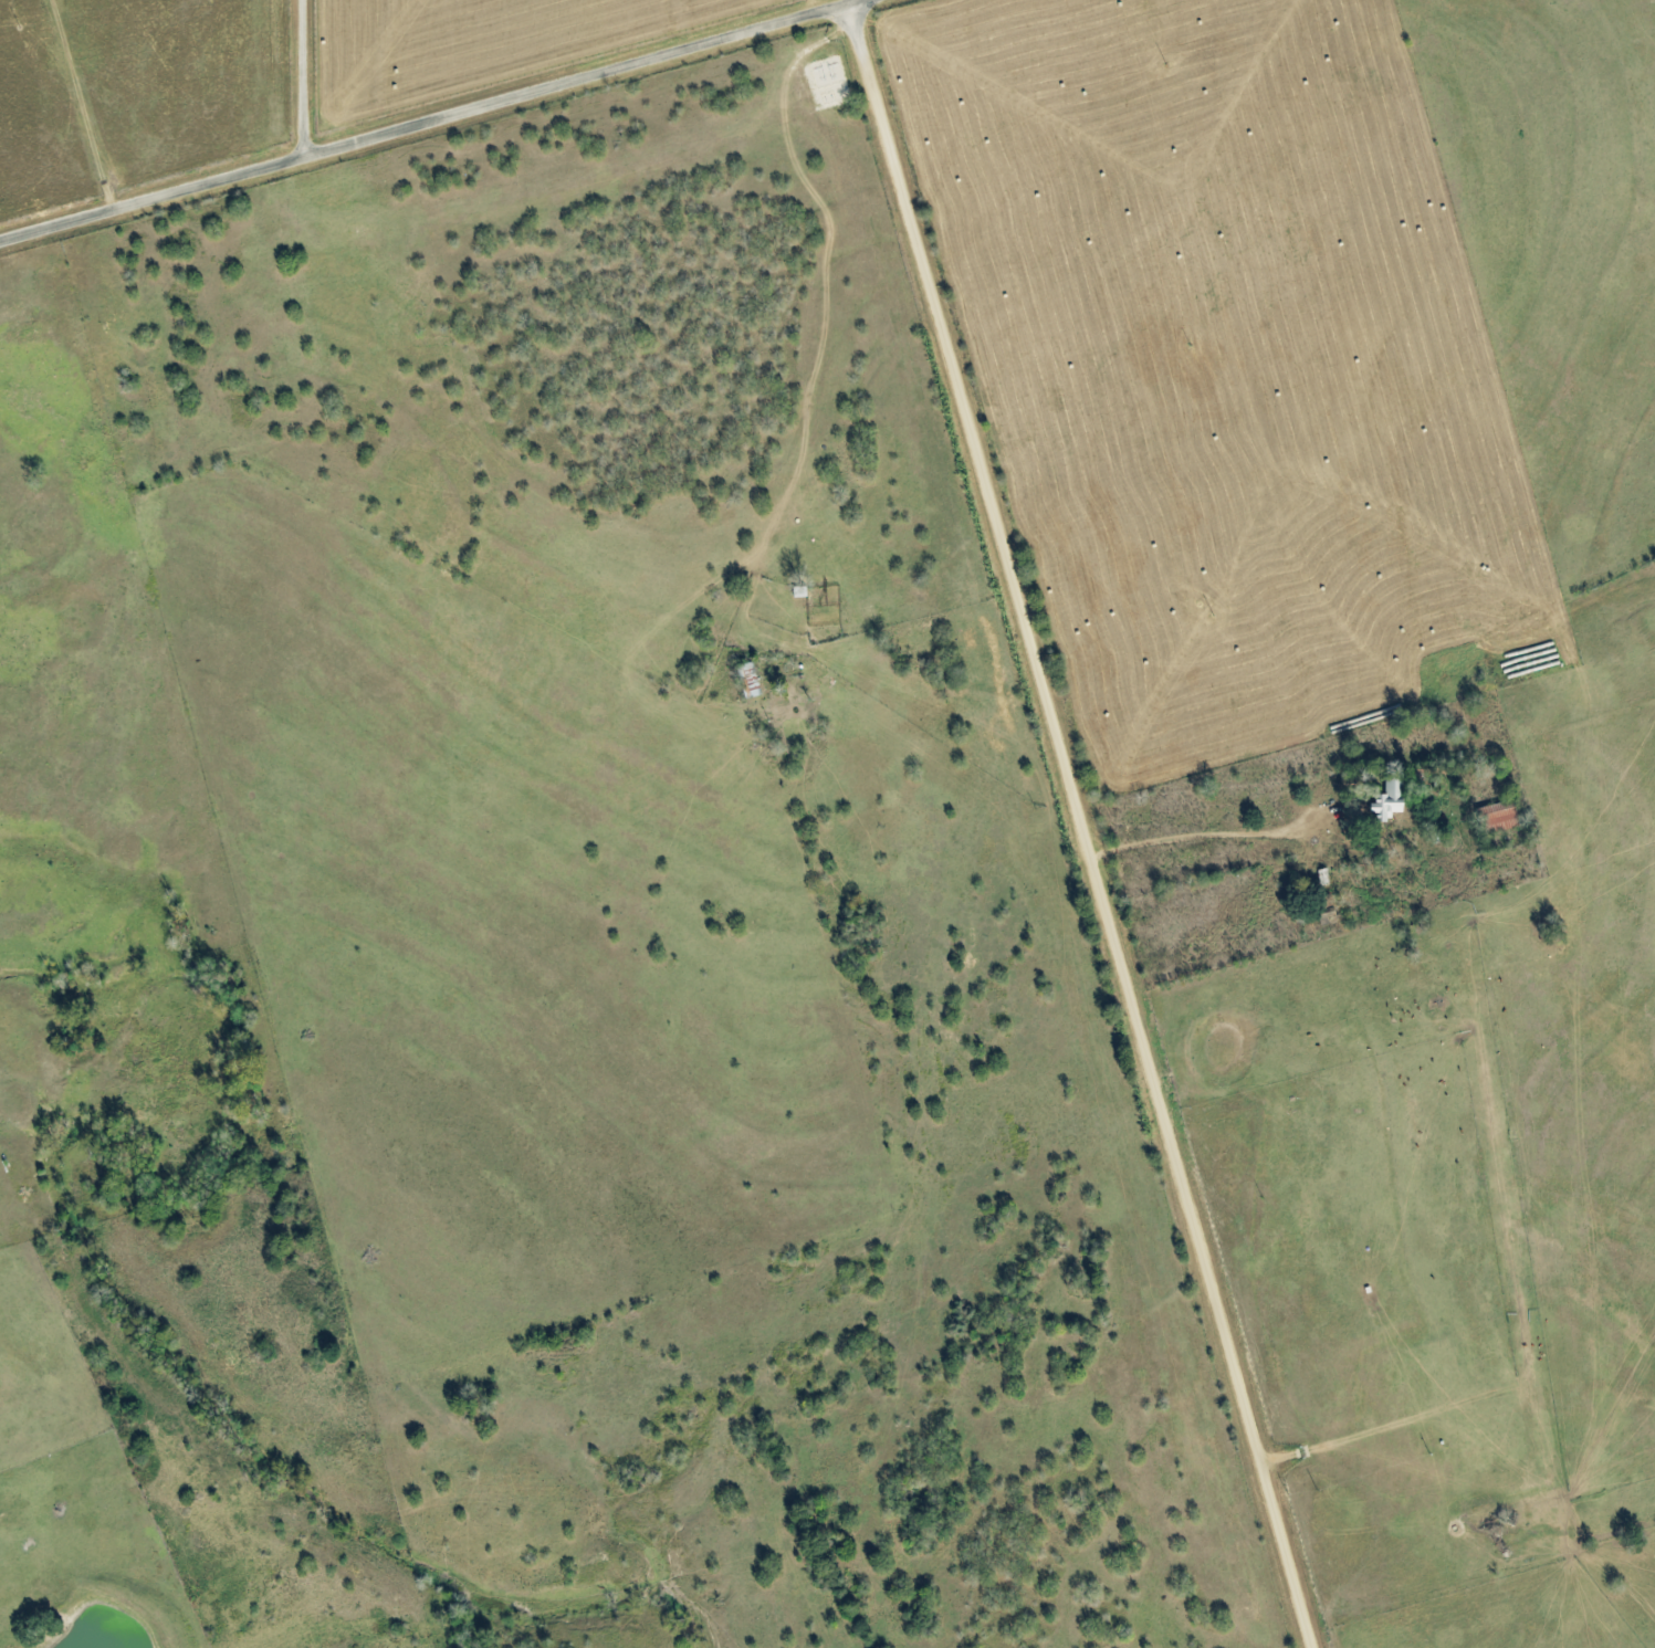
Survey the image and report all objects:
road: (308, 77)
road: (87, 104)
road: (428, 120)
building: (1391, 799)
road: (1088, 823)

